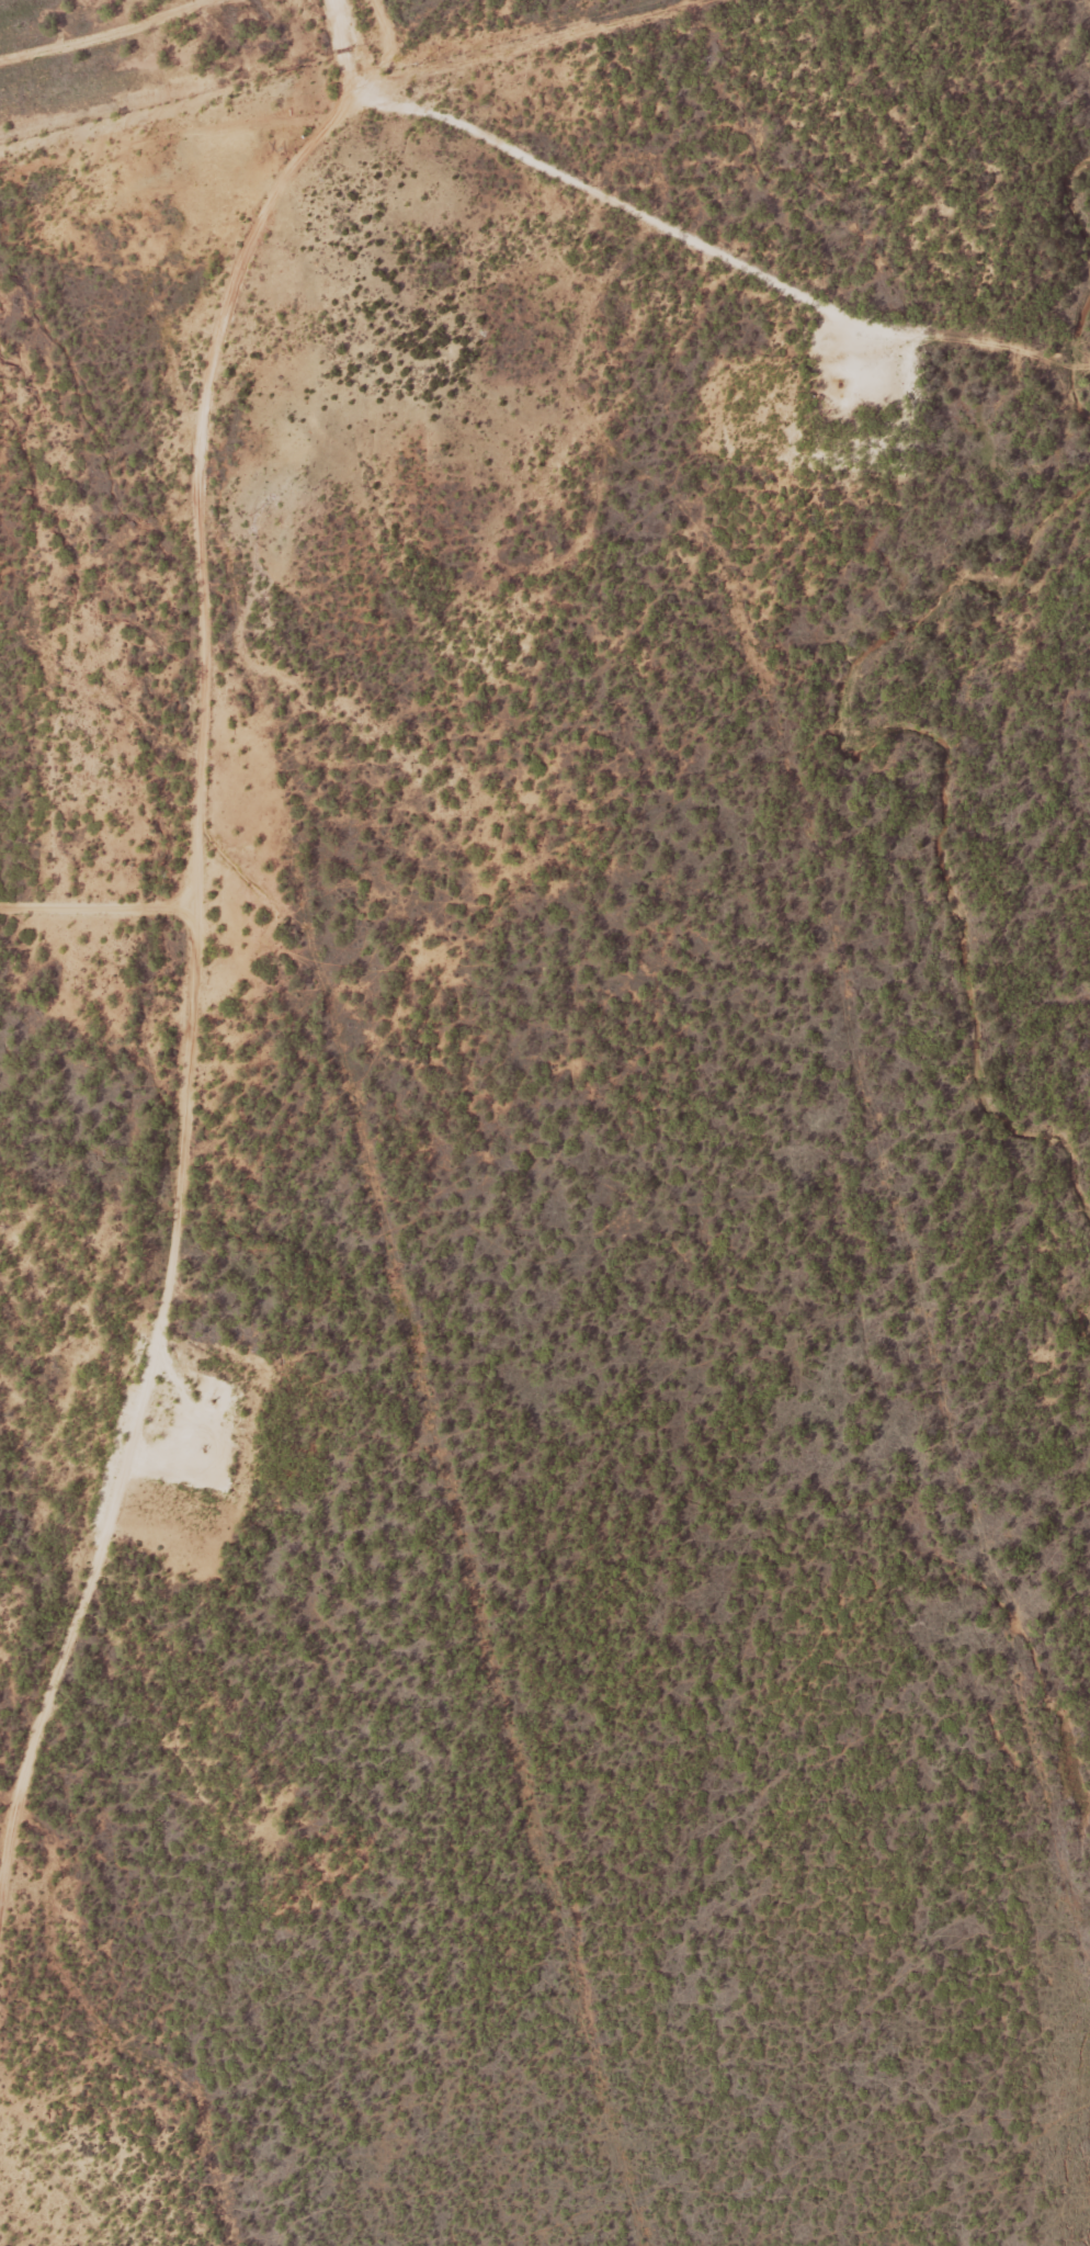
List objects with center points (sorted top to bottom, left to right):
road: (45, 8)

